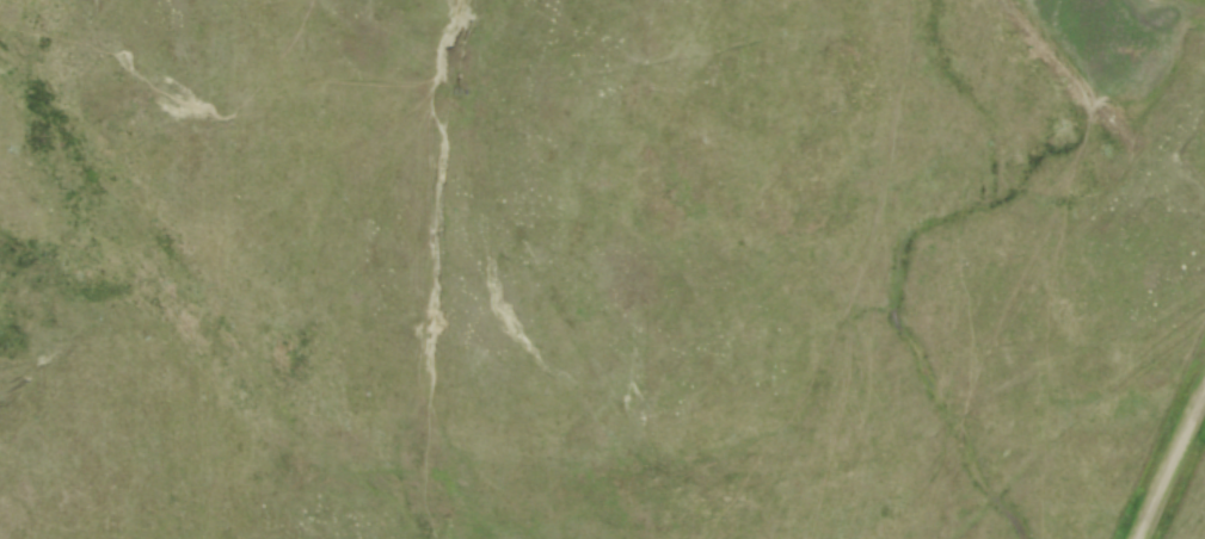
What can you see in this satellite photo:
road: (1168, 460)

